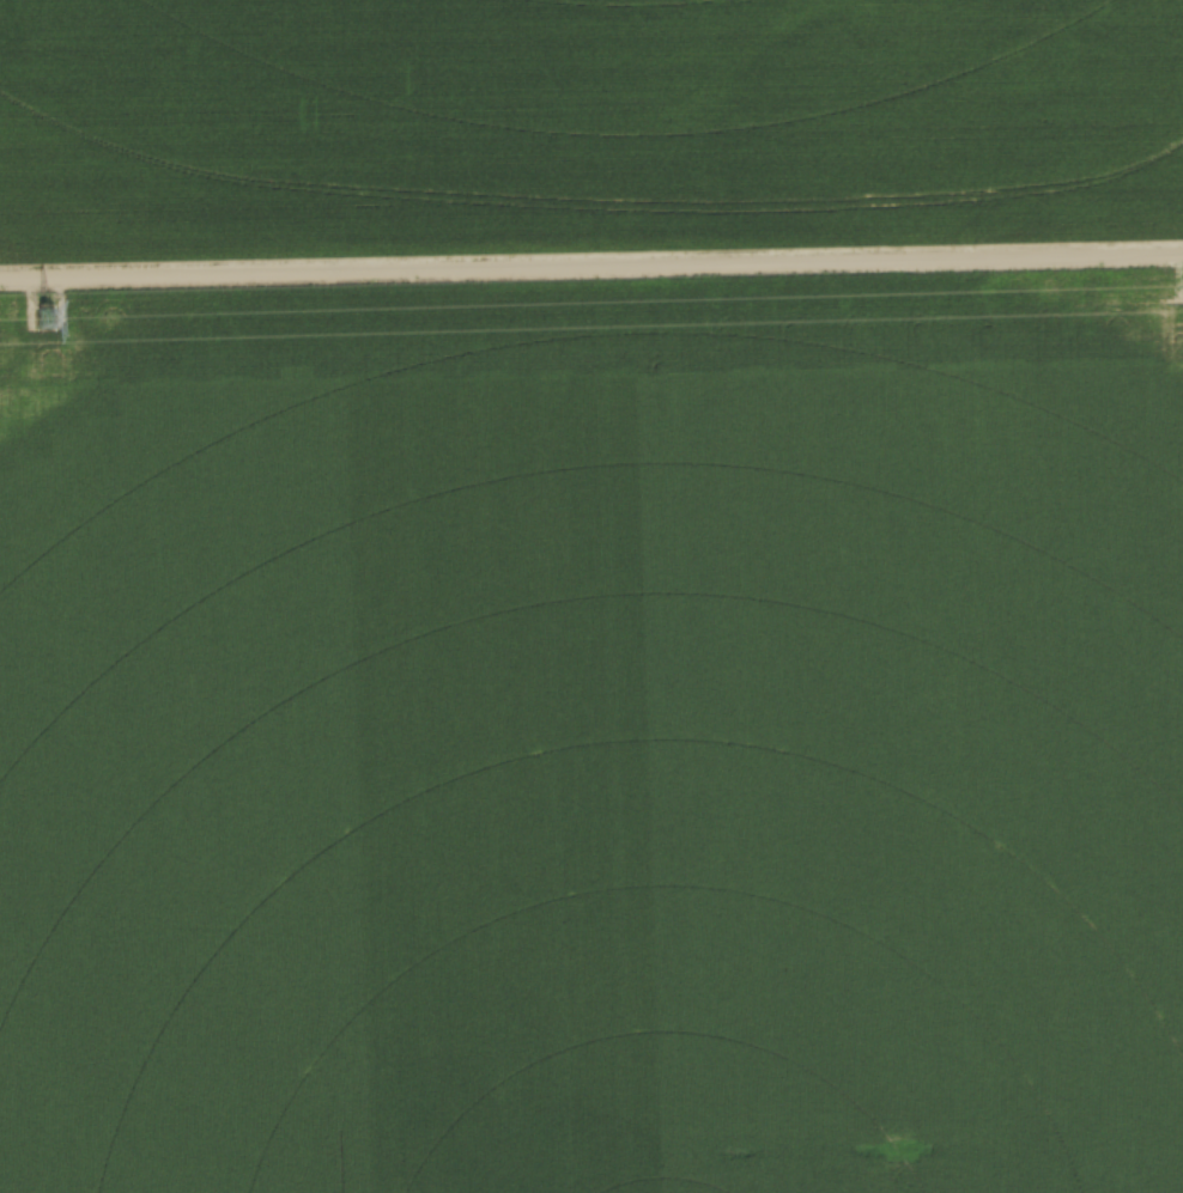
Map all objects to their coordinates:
road: (590, 266)
power tower: (42, 322)

